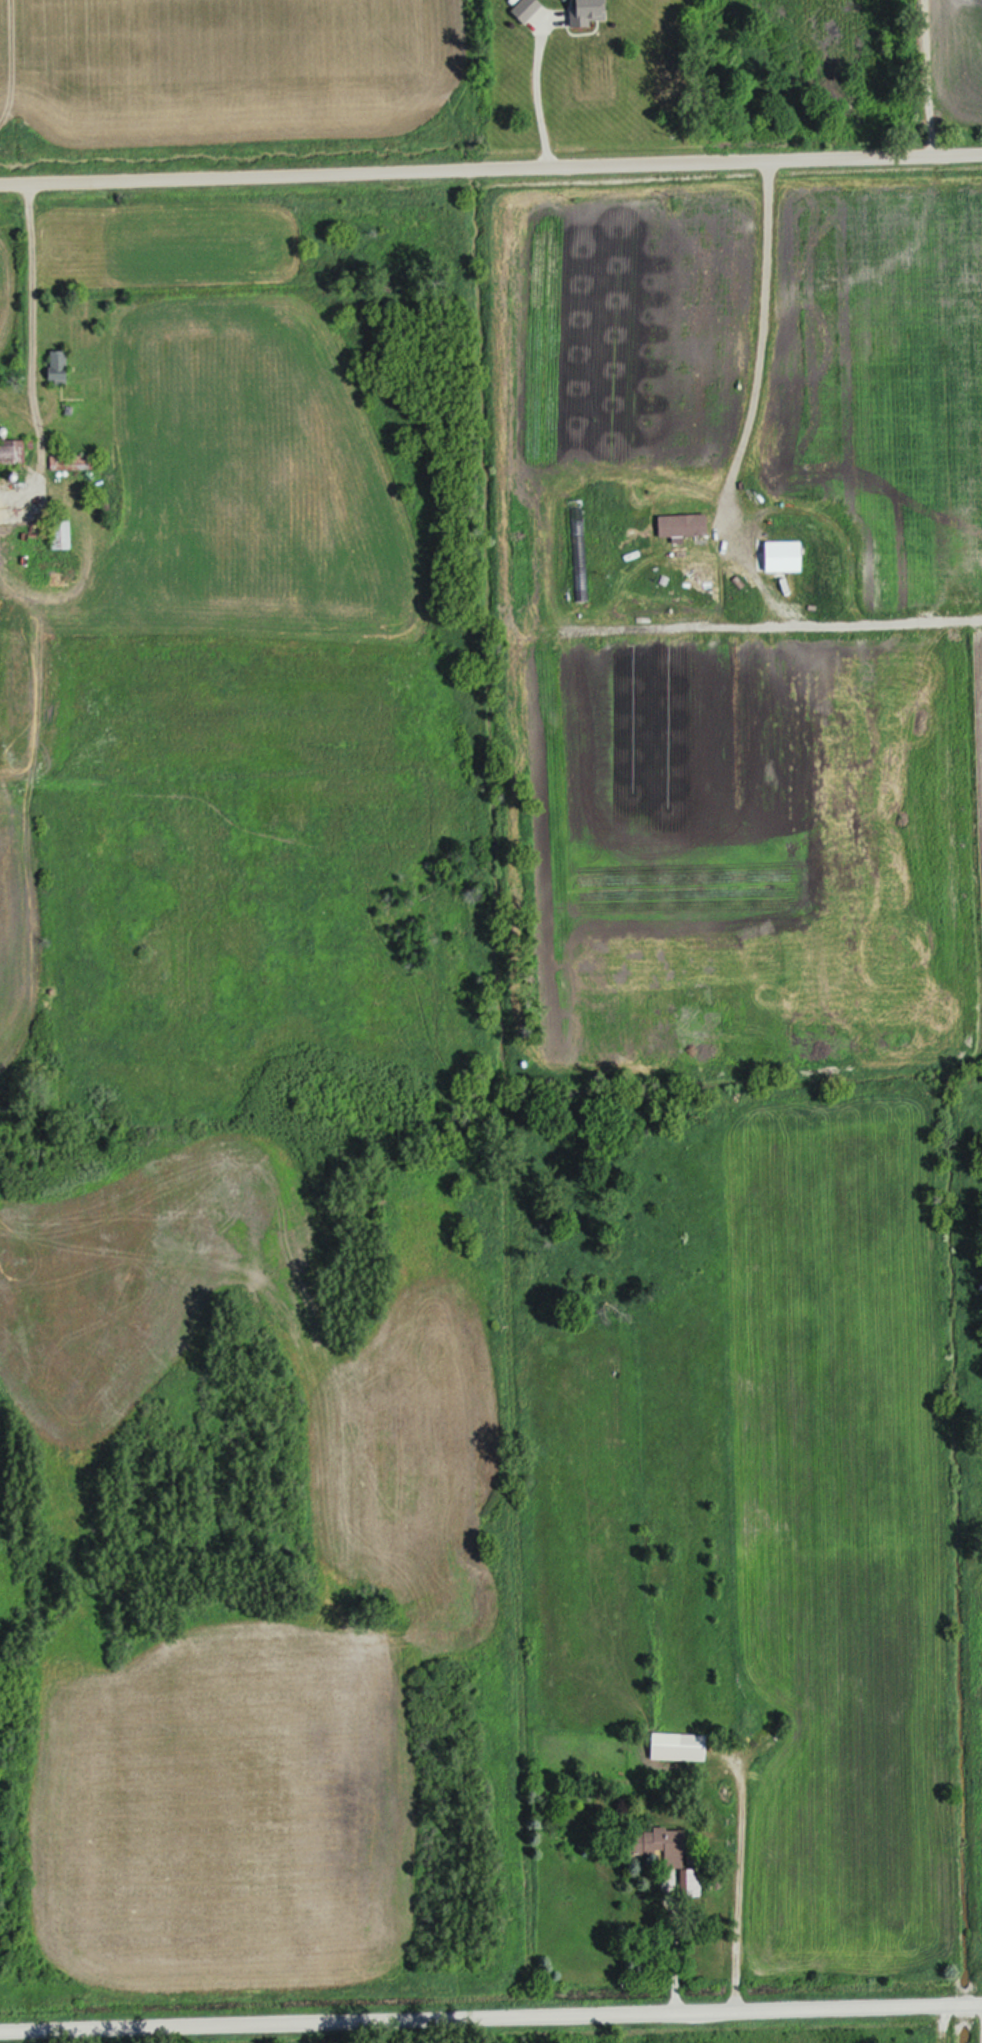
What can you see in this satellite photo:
building: (529, 8)
building: (591, 12)
road: (541, 89)
road: (491, 167)
road: (888, 264)
road: (36, 343)
building: (58, 365)
road: (756, 381)
building: (11, 449)
building: (684, 523)
building: (62, 535)
building: (680, 1746)
road: (731, 1881)
road: (665, 1949)
road: (491, 2015)
road: (976, 2019)

